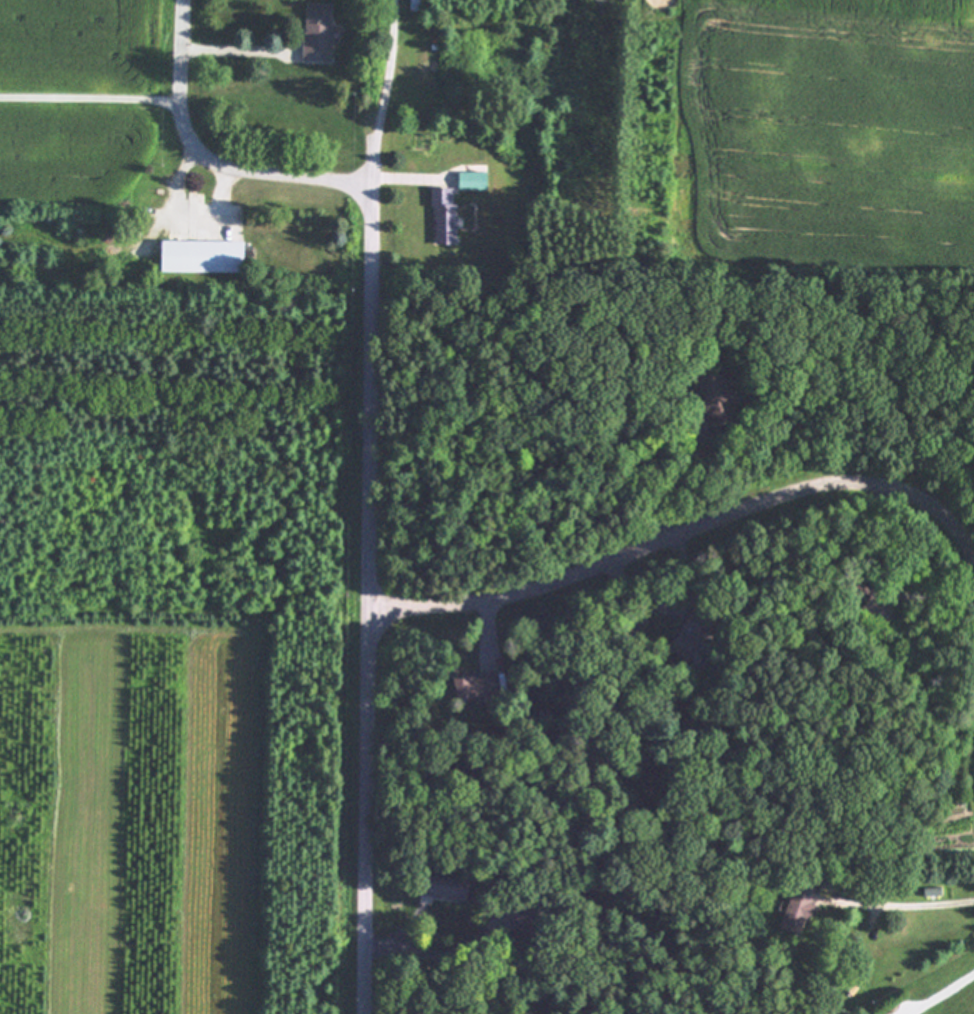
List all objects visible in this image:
building: (319, 32)
road: (238, 53)
road: (392, 71)
road: (92, 98)
road: (211, 155)
road: (374, 163)
road: (405, 178)
building: (474, 180)
road: (187, 211)
building: (446, 215)
building: (204, 255)
road: (683, 534)
road: (369, 599)
building: (694, 633)
building: (476, 685)
building: (445, 887)
road: (924, 905)
building: (798, 910)
building: (531, 920)

